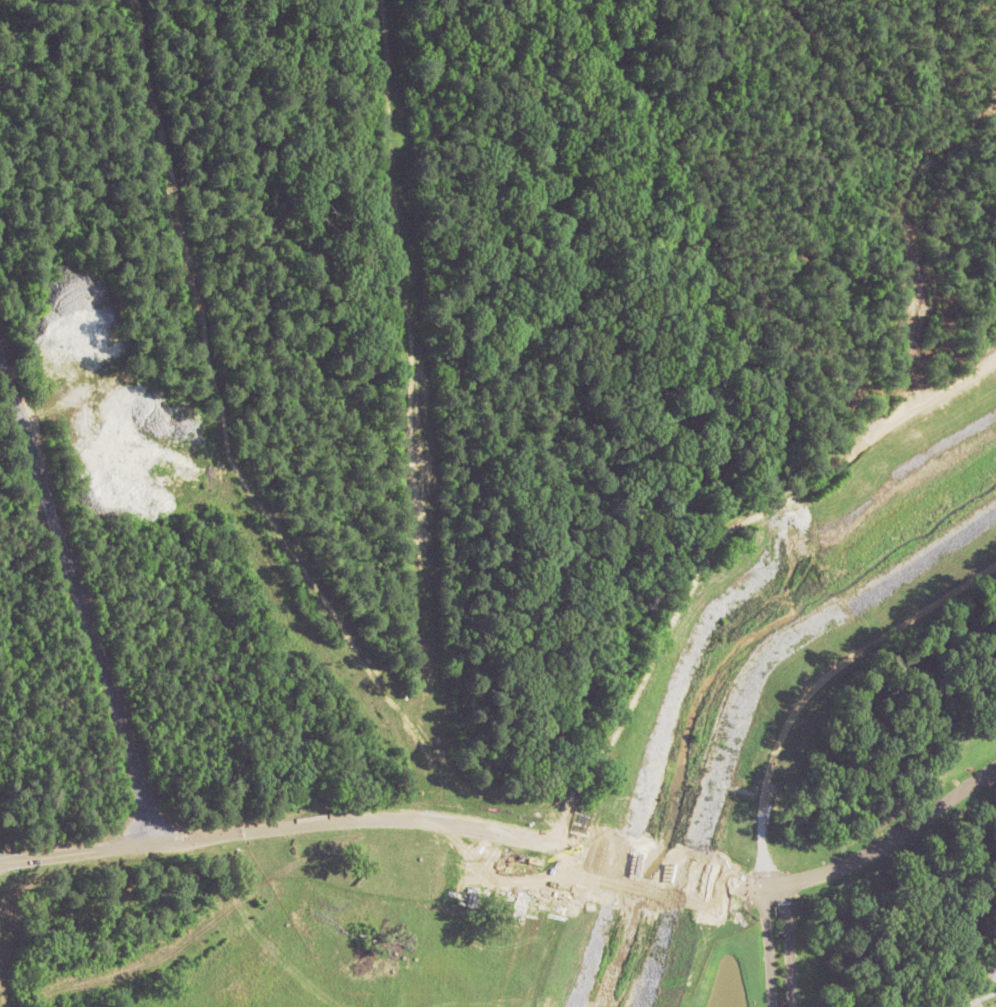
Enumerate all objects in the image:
road: (77, 606)
road: (814, 680)
road: (296, 826)
road: (868, 850)
road: (656, 867)
road: (788, 944)
road: (767, 945)
road: (966, 1002)
road: (980, 1002)

